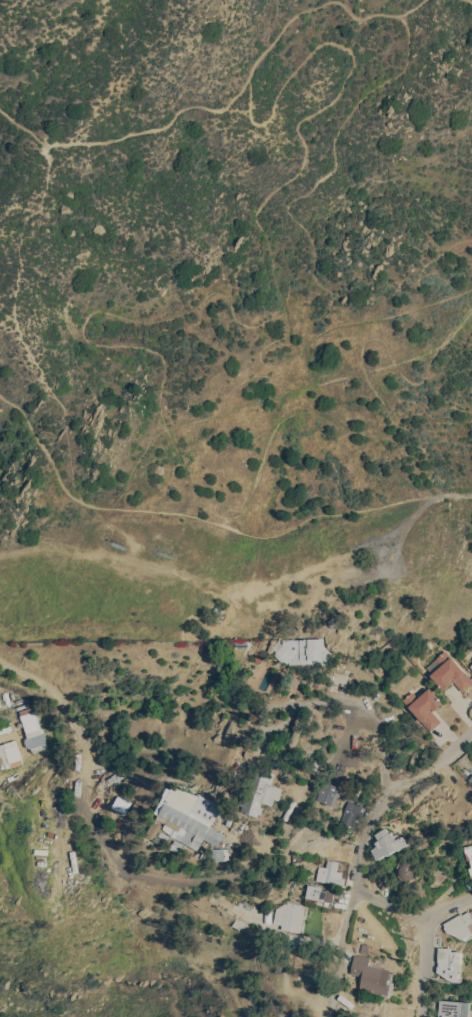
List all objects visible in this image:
road: (470, 0)
road: (413, 7)
road: (255, 95)
road: (152, 126)
road: (15, 293)
road: (371, 434)
road: (172, 438)
road: (258, 467)
road: (453, 492)
road: (194, 517)
road: (376, 537)
road: (23, 548)
road: (27, 580)
road: (233, 581)
building: (331, 621)
building: (304, 650)
building: (260, 651)
building: (471, 665)
building: (448, 671)
road: (358, 701)
building: (424, 706)
building: (31, 731)
building: (9, 753)
building: (260, 791)
building: (332, 793)
road: (390, 795)
building: (120, 803)
building: (350, 813)
building: (190, 817)
building: (153, 829)
building: (241, 830)
building: (387, 842)
building: (300, 848)
building: (468, 852)
building: (221, 853)
building: (407, 869)
building: (471, 870)
building: (329, 872)
road: (160, 874)
building: (384, 880)
building: (319, 894)
road: (388, 903)
road: (447, 905)
road: (347, 910)
building: (290, 915)
building: (460, 925)
building: (364, 948)
building: (450, 962)
road: (422, 968)
building: (371, 975)
building: (454, 1008)

